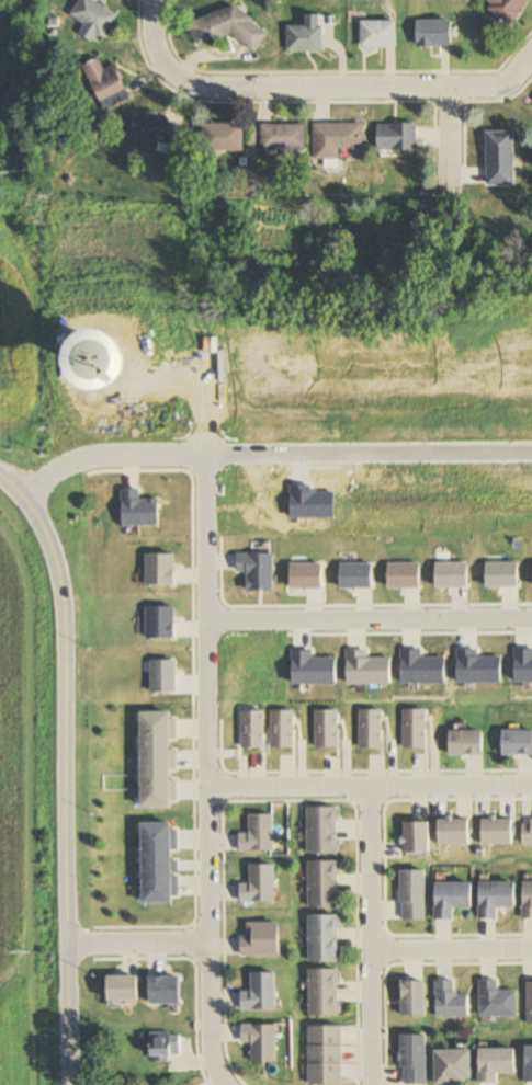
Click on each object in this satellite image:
building: (508, 10)
building: (92, 20)
building: (226, 28)
building: (434, 34)
building: (378, 35)
building: (306, 36)
building: (105, 82)
road: (319, 89)
building: (154, 129)
road: (454, 133)
building: (223, 137)
building: (283, 137)
building: (397, 137)
building: (336, 139)
building: (500, 158)
crop: (18, 216)
water tower: (87, 358)
road: (271, 453)
road: (369, 621)
building: (415, 728)
building: (370, 731)
building: (467, 743)
building: (517, 743)
road: (68, 768)
road: (206, 770)
road: (370, 785)
building: (322, 829)
building: (527, 830)
building: (454, 831)
building: (497, 831)
building: (417, 837)
building: (322, 883)
building: (453, 898)
building: (495, 898)
building: (528, 901)
road: (370, 935)
building: (324, 938)
road: (138, 944)
road: (451, 951)
power tower: (14, 959)
building: (324, 993)
building: (496, 1001)
building: (450, 1002)
building: (165, 1043)
building: (326, 1055)
building: (453, 1066)

